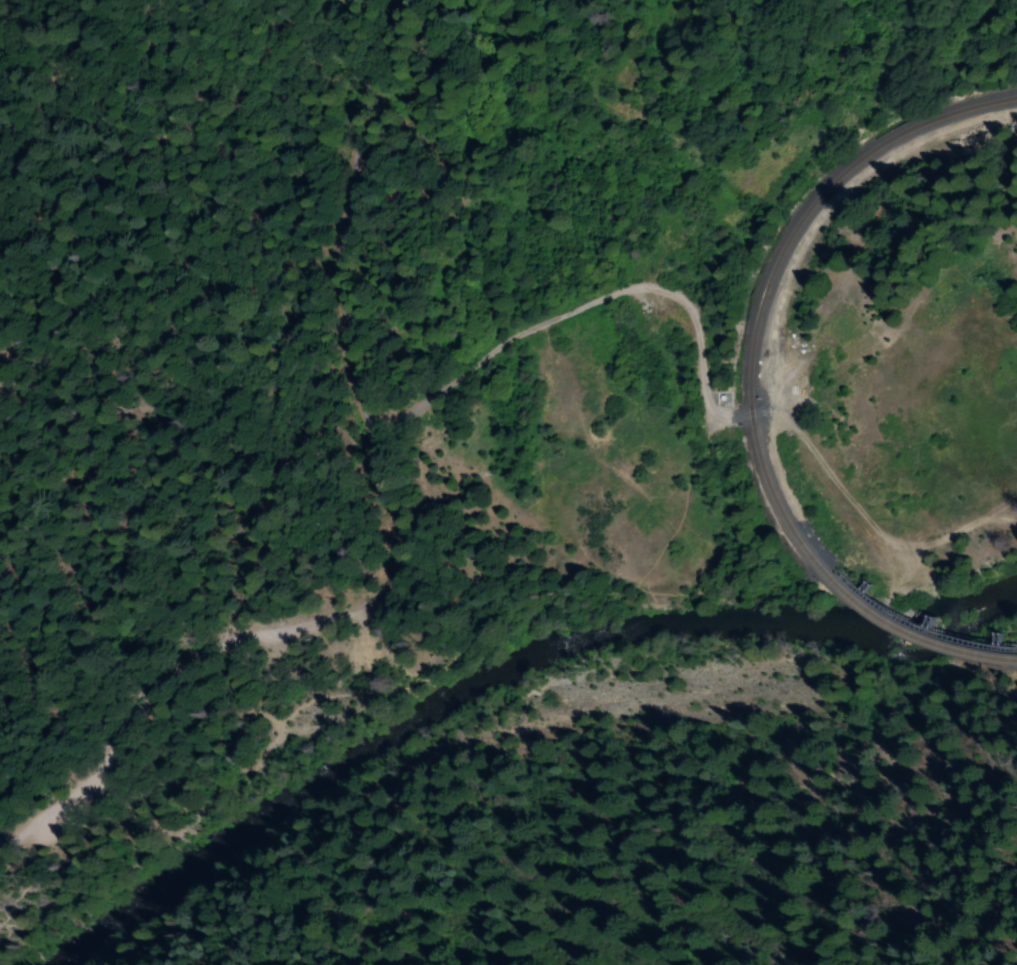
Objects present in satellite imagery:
road: (340, 228)
railway: (769, 277)
road: (586, 306)
road: (867, 526)
road: (227, 633)
railway: (911, 637)
river: (478, 679)
road: (425, 684)
parking lot: (62, 819)
road: (111, 839)

